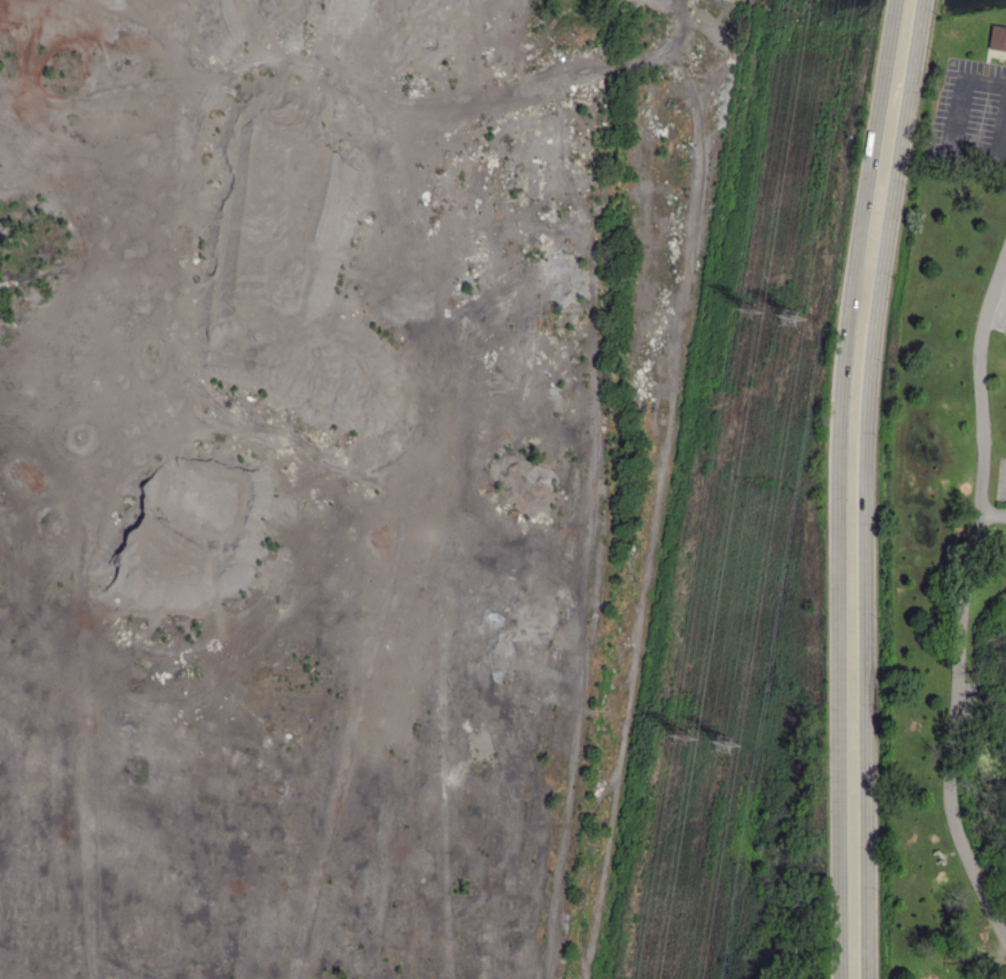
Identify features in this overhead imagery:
road: (751, 2)
building: (998, 39)
parking lot: (970, 116)
road: (962, 119)
road: (997, 132)
road: (997, 167)
power tower: (751, 309)
power tower: (793, 313)
road: (853, 487)
road: (676, 492)
parking lot: (1001, 492)
road: (993, 512)
park: (946, 522)
road: (963, 596)
power tower: (681, 733)
power tower: (723, 740)

